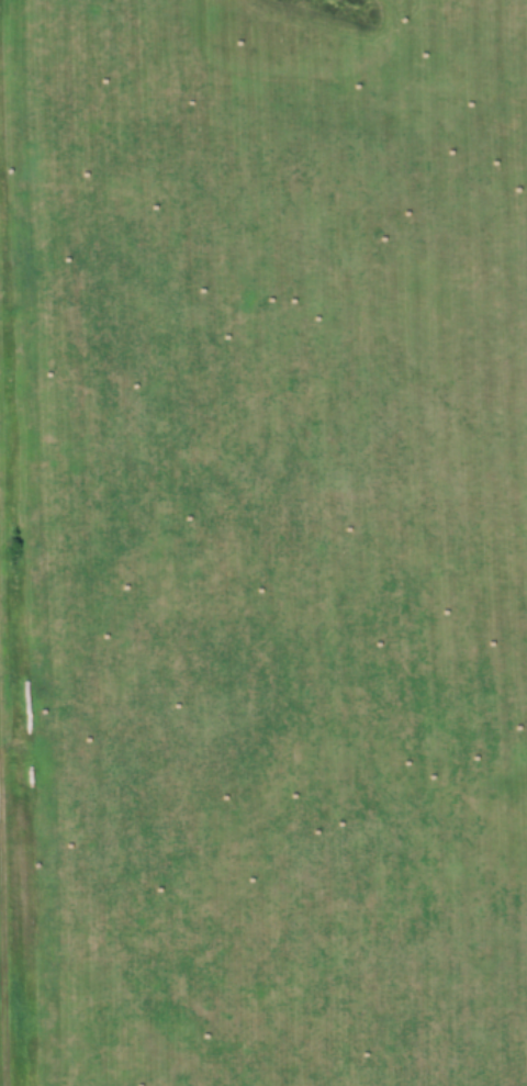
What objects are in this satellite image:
road: (1, 1008)

